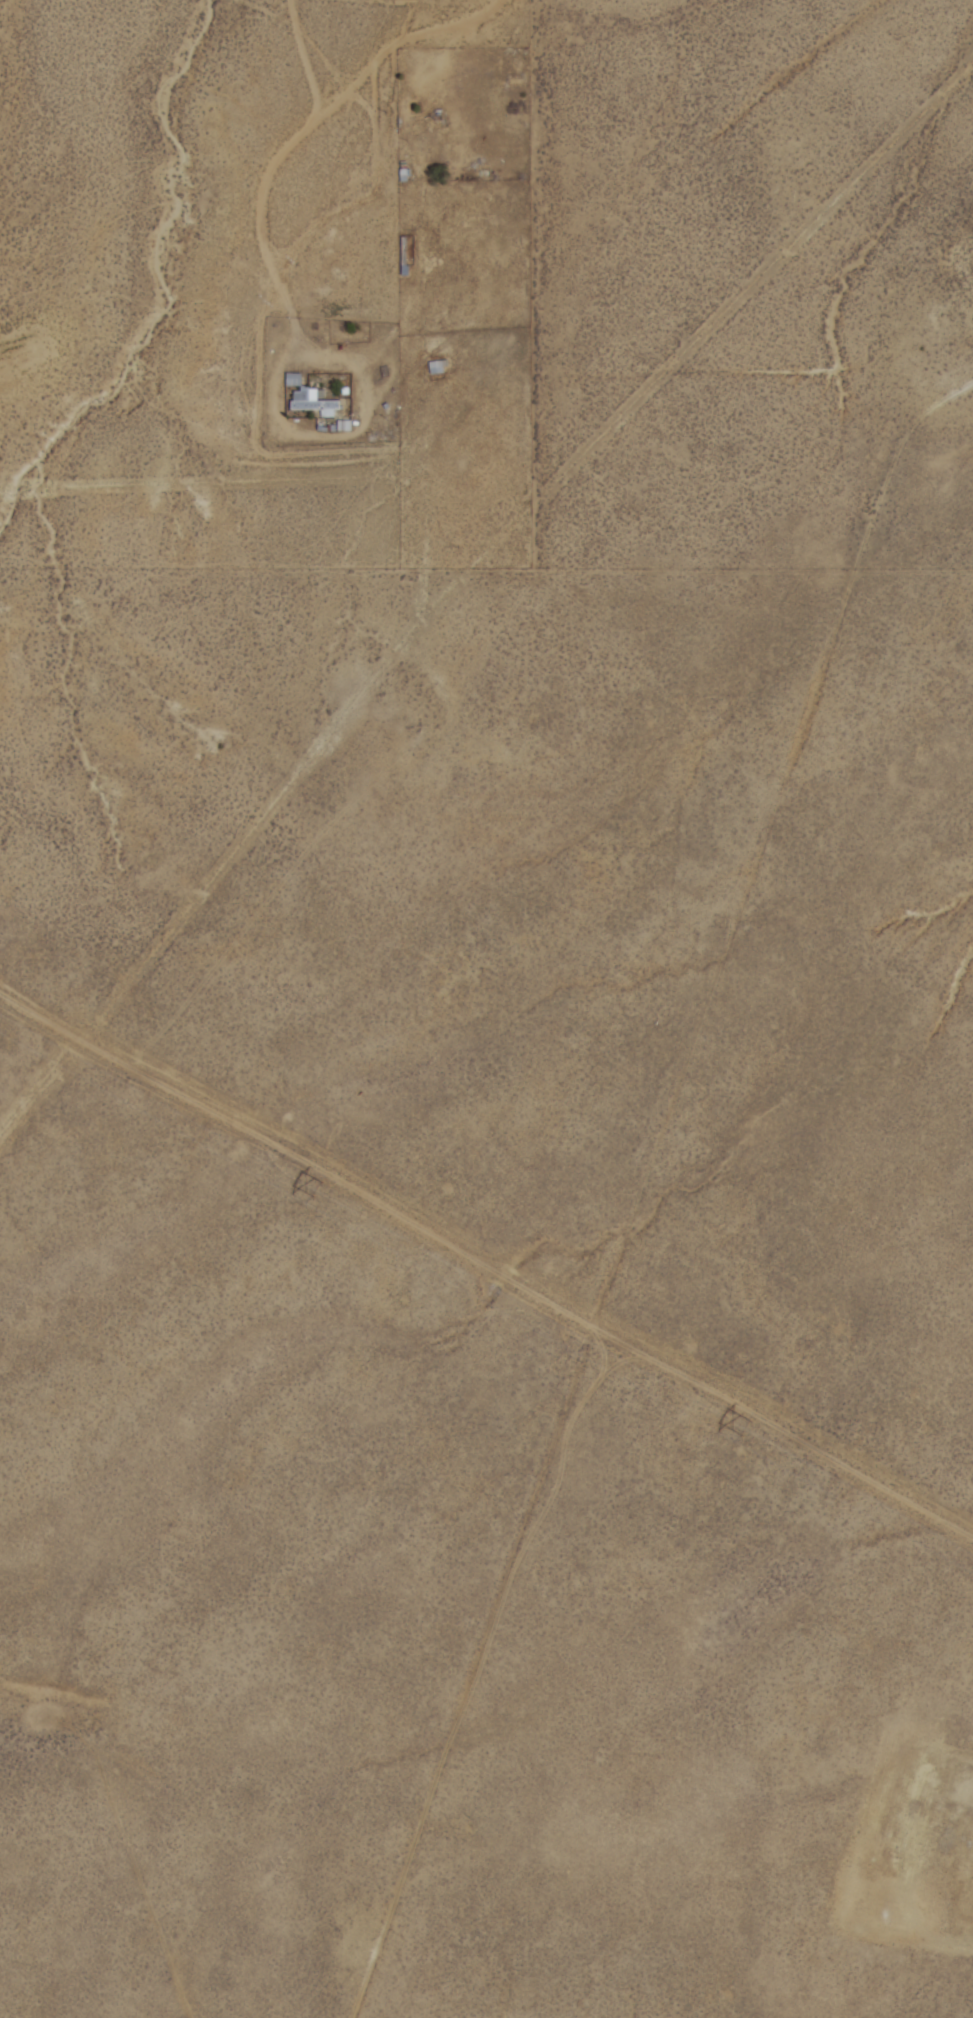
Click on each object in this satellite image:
building: (404, 253)
building: (436, 369)
building: (312, 406)
power tower: (311, 1192)
road: (662, 1213)
power tower: (741, 1430)

